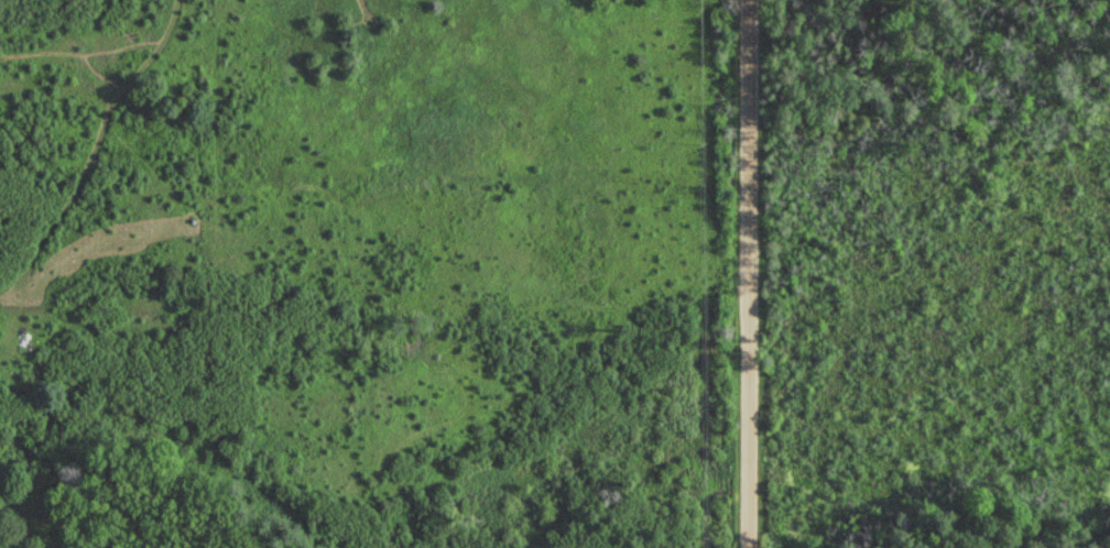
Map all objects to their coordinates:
road: (727, 274)

